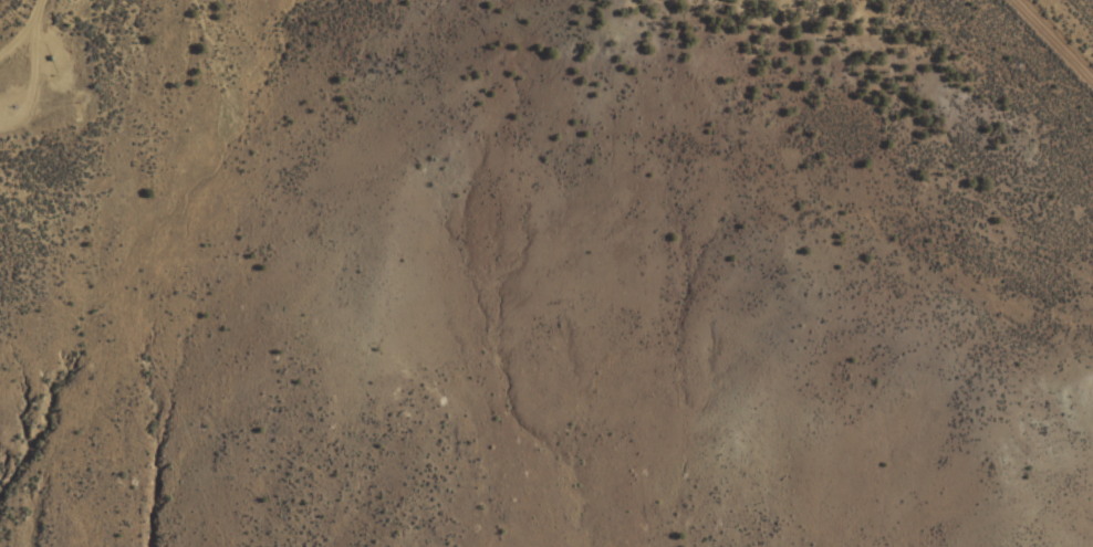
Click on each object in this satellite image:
road: (1038, 52)

